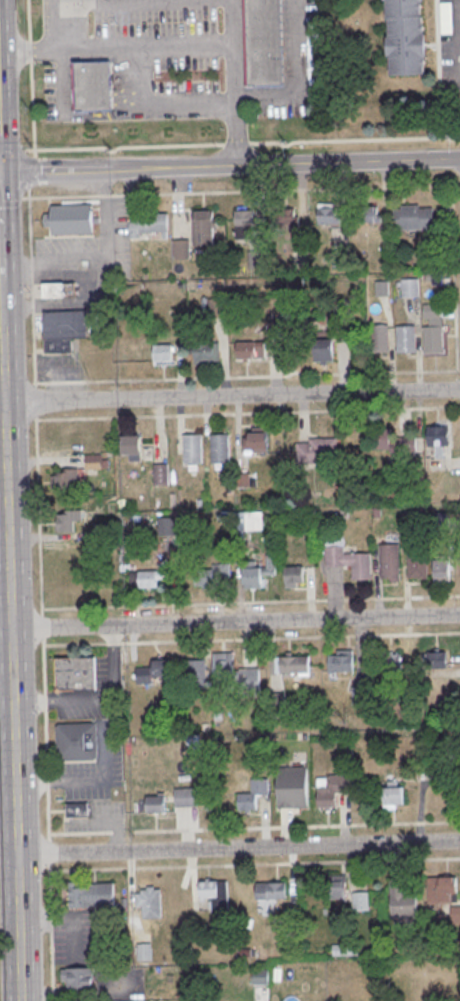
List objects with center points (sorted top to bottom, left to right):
road: (75, 10)
building: (445, 17)
building: (407, 38)
road: (209, 41)
building: (264, 43)
road: (233, 70)
road: (32, 78)
building: (91, 86)
road: (172, 101)
road: (234, 131)
road: (354, 141)
road: (237, 144)
road: (122, 147)
road: (12, 149)
road: (230, 165)
road: (31, 173)
road: (236, 192)
road: (10, 198)
building: (369, 214)
building: (328, 215)
building: (414, 219)
building: (72, 220)
building: (149, 225)
building: (245, 225)
building: (204, 229)
building: (181, 249)
building: (431, 255)
road: (0, 258)
road: (454, 279)
road: (31, 286)
building: (410, 288)
building: (381, 289)
building: (58, 290)
road: (1, 306)
building: (64, 330)
building: (378, 338)
building: (406, 340)
building: (434, 340)
building: (251, 351)
building: (324, 352)
building: (162, 353)
building: (204, 353)
road: (35, 391)
road: (232, 396)
building: (437, 437)
building: (255, 442)
building: (391, 442)
building: (132, 446)
building: (193, 449)
building: (220, 450)
building: (315, 451)
building: (94, 463)
building: (161, 475)
building: (67, 480)
building: (242, 481)
road: (39, 518)
building: (248, 520)
building: (66, 521)
building: (167, 526)
building: (349, 562)
building: (391, 562)
building: (418, 564)
building: (441, 571)
building: (257, 573)
building: (294, 576)
building: (148, 580)
road: (251, 604)
road: (5, 606)
road: (235, 622)
road: (42, 628)
road: (251, 640)
road: (5, 641)
road: (44, 643)
building: (434, 660)
building: (343, 663)
road: (11, 666)
building: (295, 666)
building: (195, 670)
building: (153, 672)
building: (75, 673)
building: (236, 676)
road: (92, 697)
road: (6, 710)
building: (76, 742)
road: (46, 744)
building: (293, 789)
building: (333, 792)
building: (253, 796)
building: (186, 798)
building: (392, 799)
building: (156, 805)
building: (76, 809)
road: (254, 829)
road: (237, 848)
road: (49, 854)
road: (8, 855)
road: (255, 865)
building: (339, 888)
building: (441, 888)
building: (214, 893)
building: (271, 893)
building: (91, 895)
building: (361, 902)
building: (150, 904)
building: (404, 904)
road: (51, 934)
building: (143, 951)
building: (77, 977)

